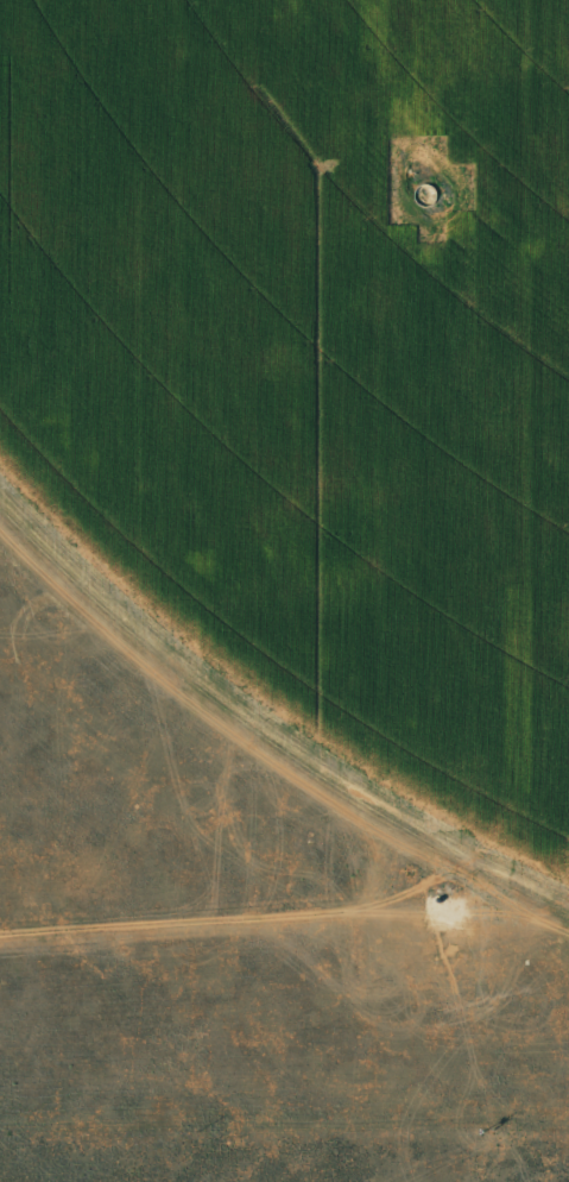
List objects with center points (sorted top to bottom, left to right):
crop: (312, 357)

